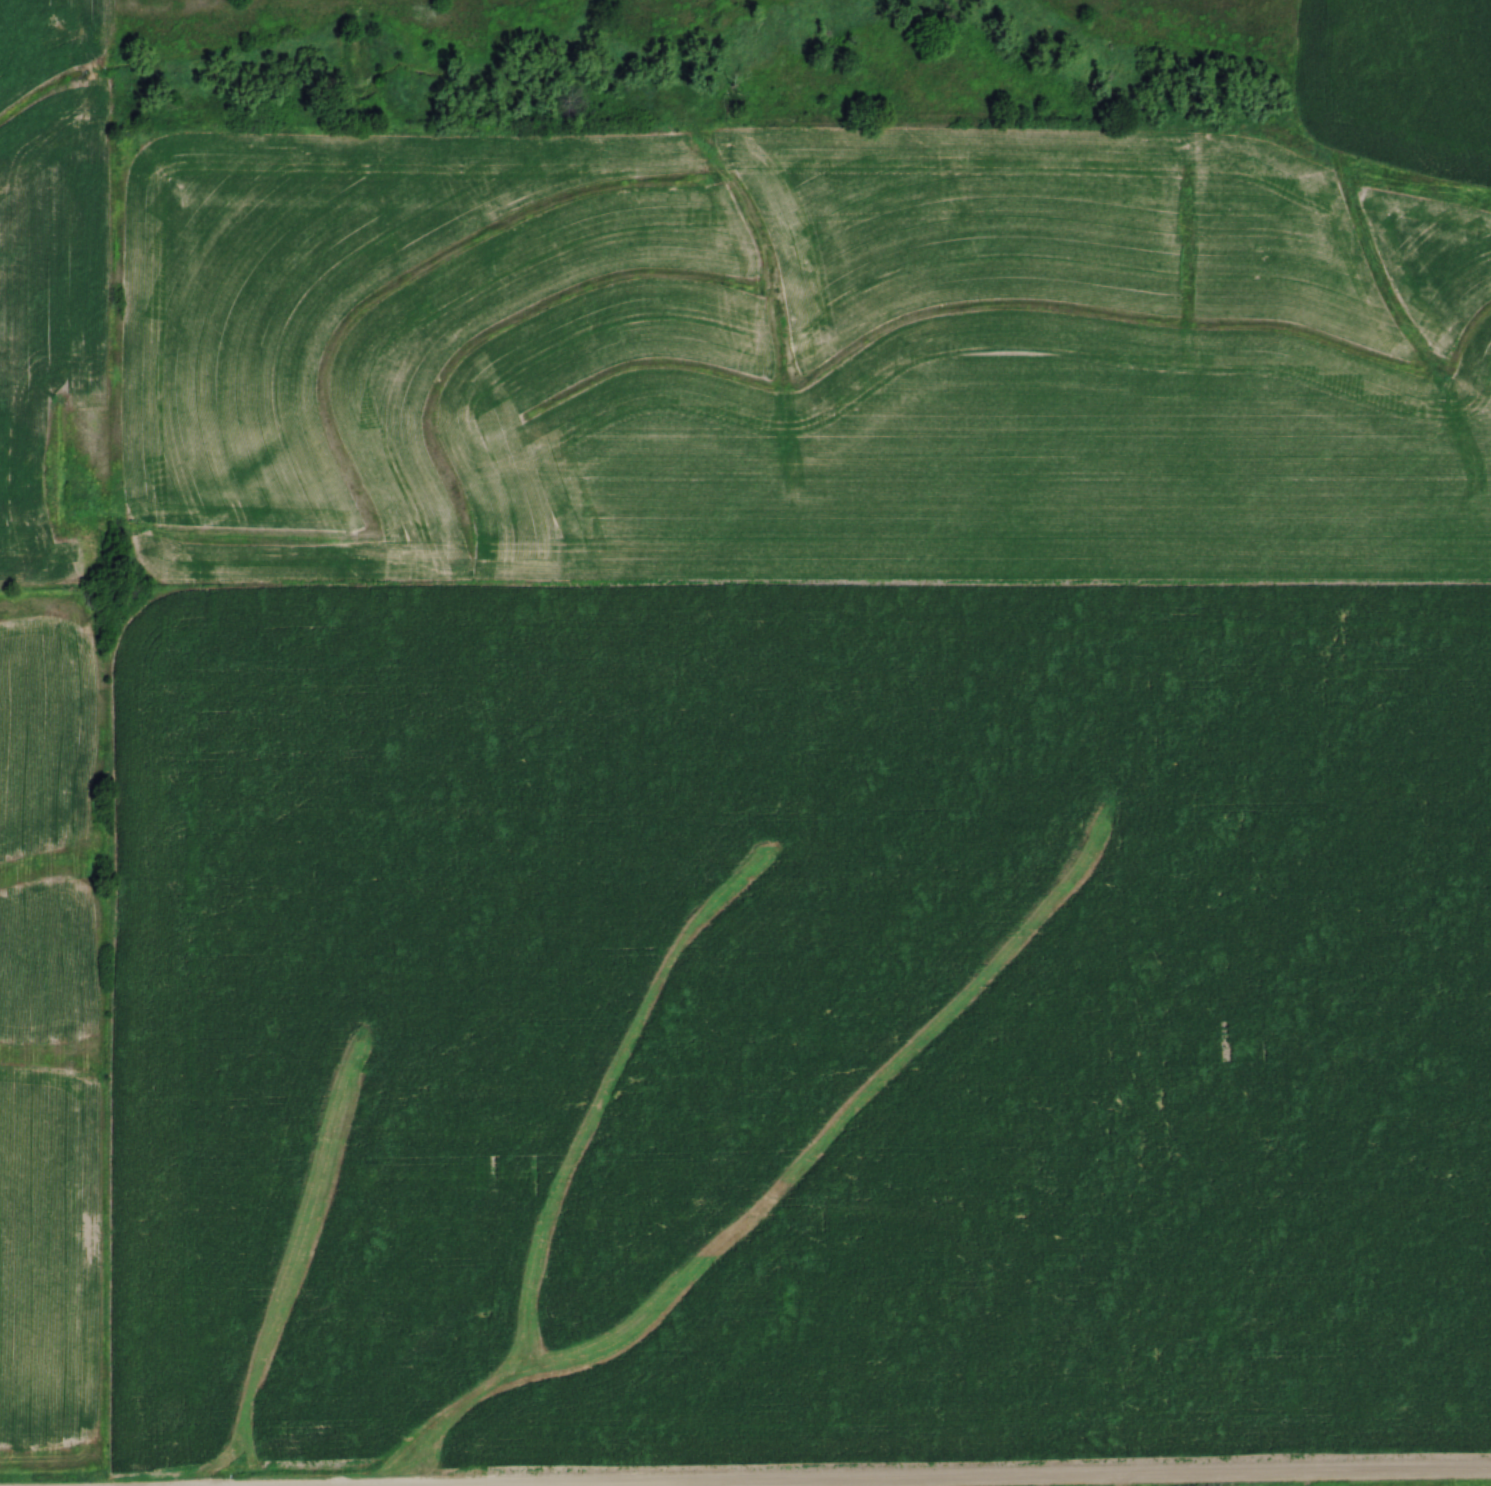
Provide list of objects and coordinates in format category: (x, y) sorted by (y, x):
road: (1036, 1477)

